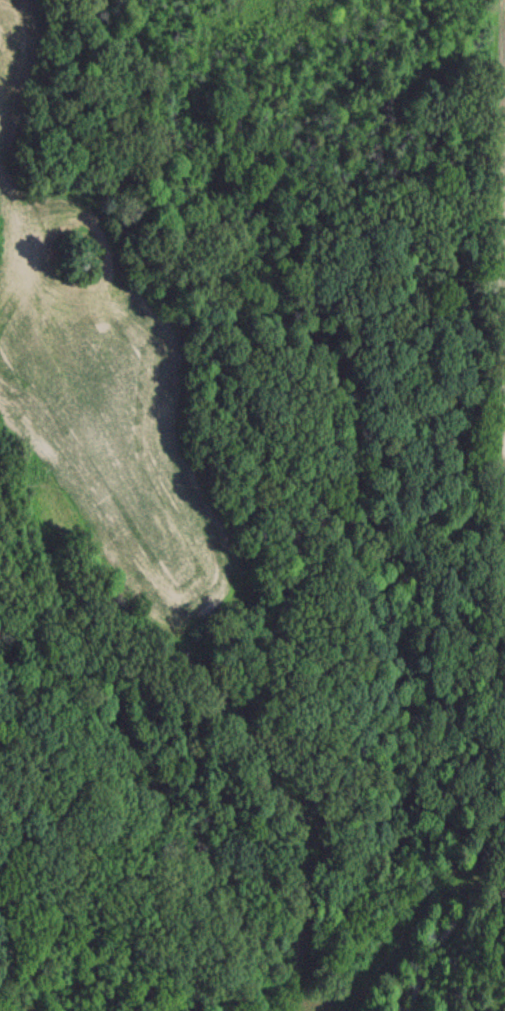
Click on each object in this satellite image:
road: (441, 938)

